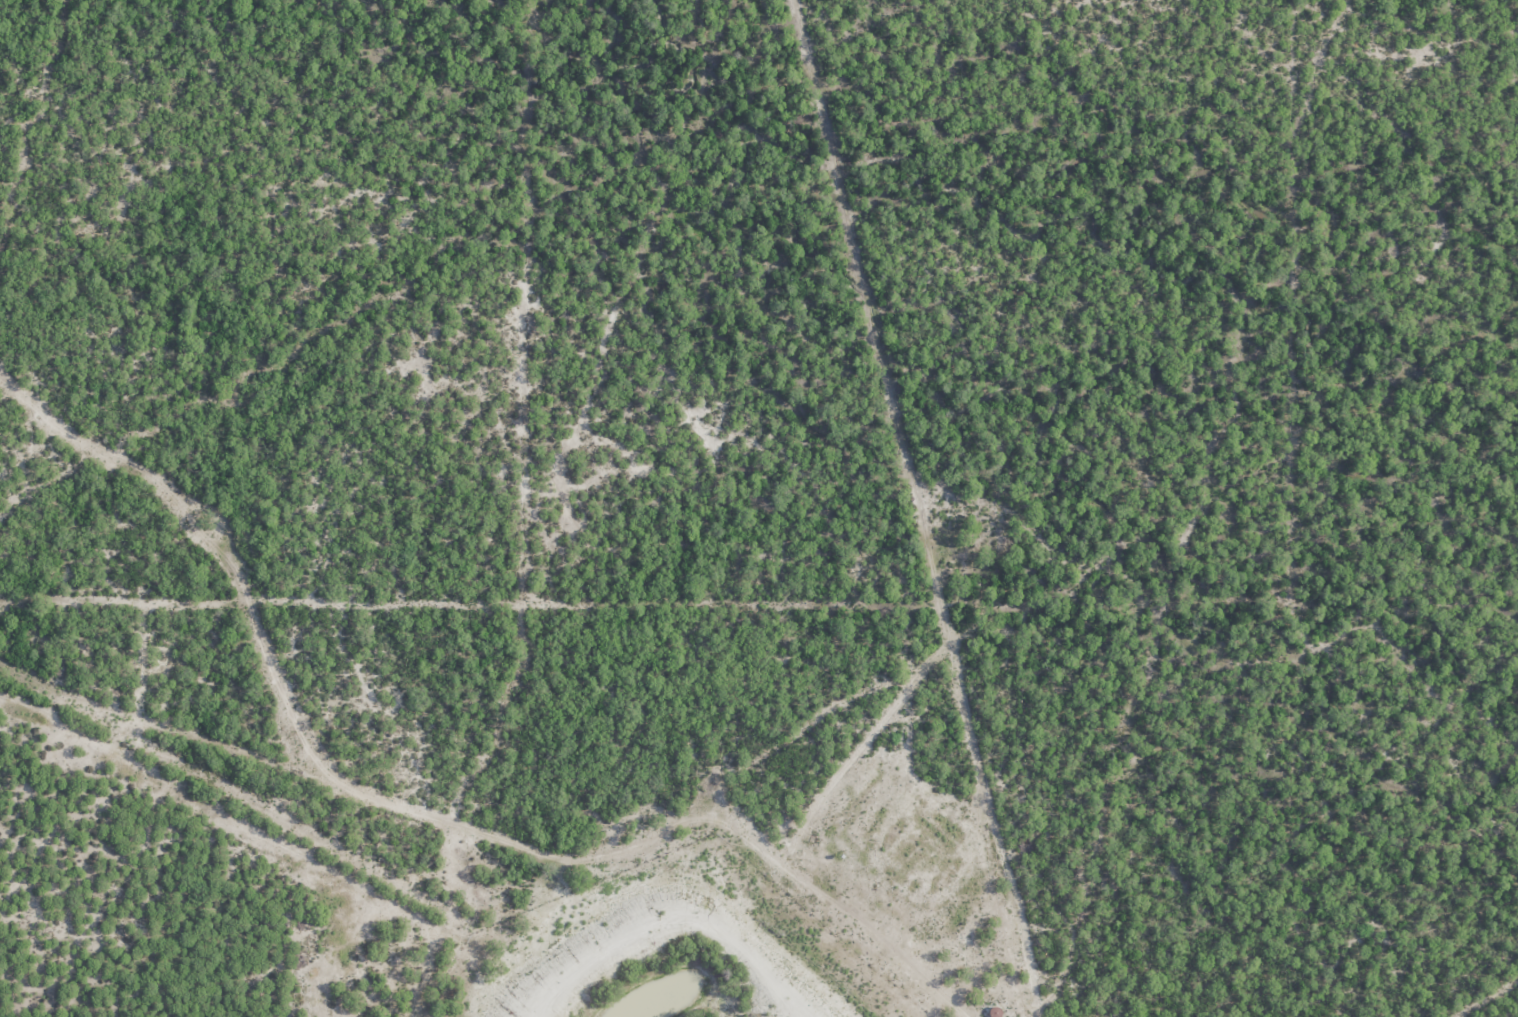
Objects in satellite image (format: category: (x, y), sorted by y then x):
road: (510, 874)

